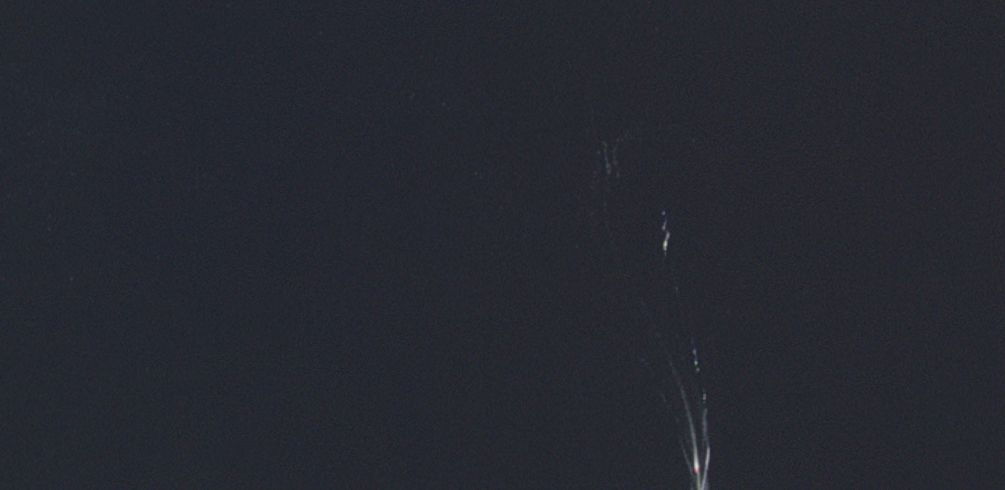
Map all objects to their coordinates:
river: (943, 382)

